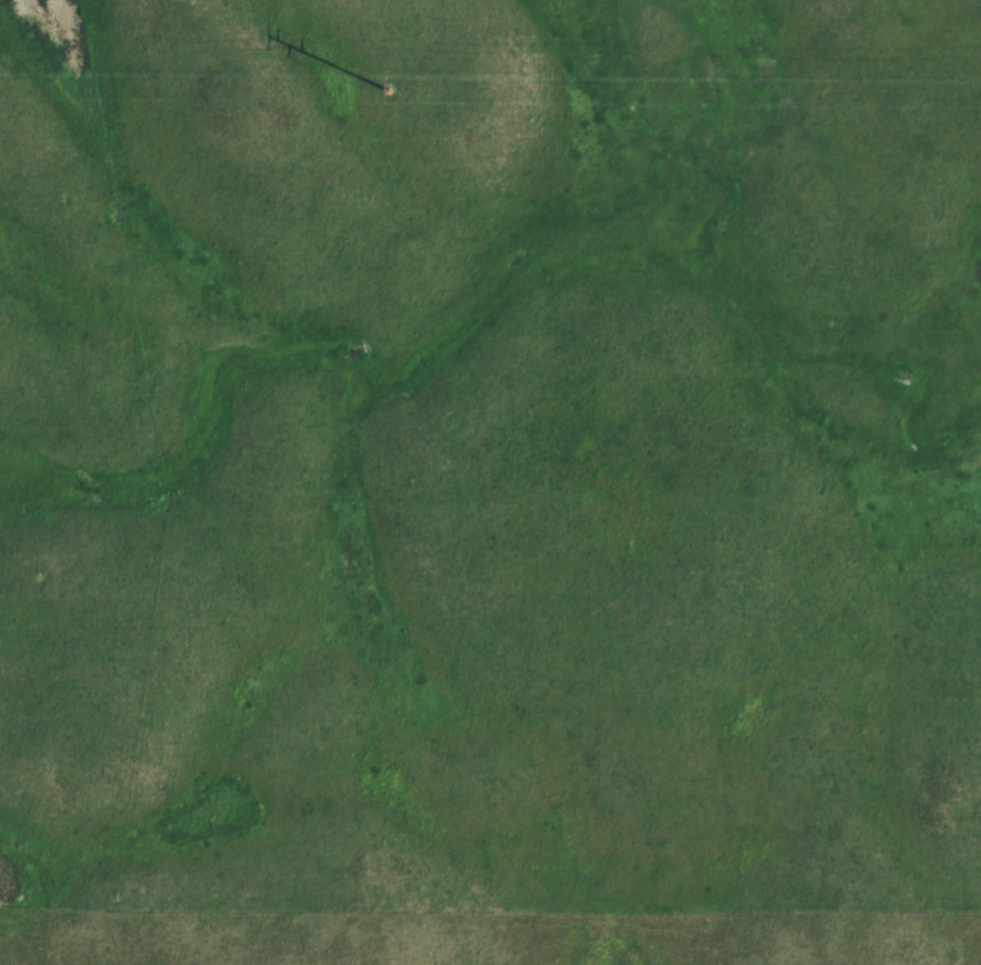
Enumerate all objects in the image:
power tower: (389, 89)

